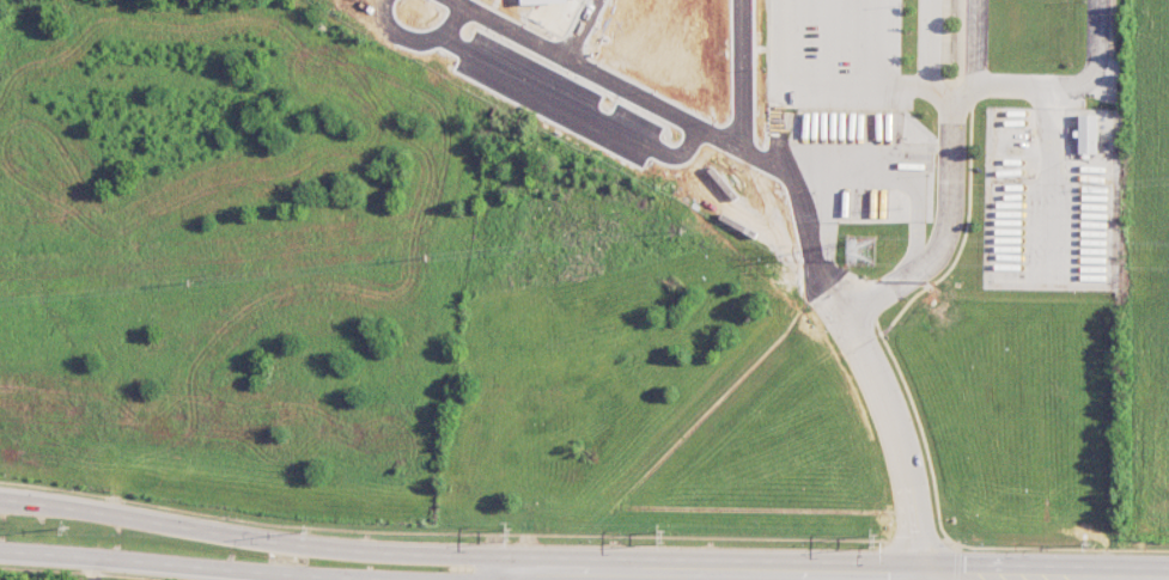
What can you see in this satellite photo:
road: (930, 43)
road: (852, 84)
building: (1088, 133)
road: (785, 149)
road: (948, 222)
power tower: (859, 252)
road: (895, 427)
power tower: (68, 526)
road: (190, 529)
power tower: (306, 531)
power tower: (512, 537)
power tower: (664, 538)
power tower: (875, 541)
road: (190, 567)
road: (93, 569)
road: (751, 573)
road: (504, 575)

